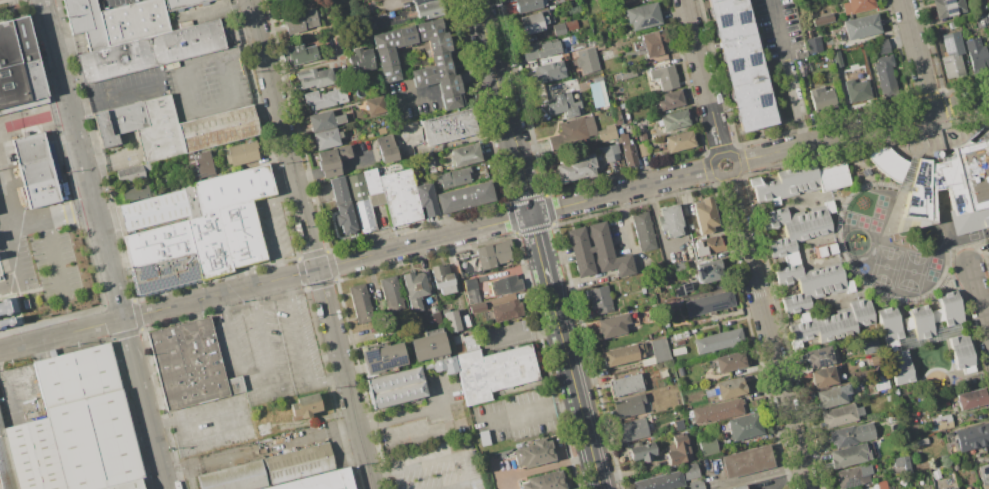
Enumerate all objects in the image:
building: (418, 1)
rooftop solar panel: (950, 3)
building: (182, 4)
building: (529, 4)
building: (982, 4)
building: (859, 6)
building: (948, 7)
building: (428, 9)
rooftop solar panel: (951, 9)
building: (988, 14)
building: (642, 15)
rooftop solar panel: (742, 15)
rooftop solar panel: (738, 17)
building: (823, 19)
building: (299, 20)
building: (535, 20)
rooftop solar panel: (722, 20)
building: (981, 20)
building: (85, 21)
building: (132, 21)
building: (862, 26)
building: (563, 27)
parking lot: (780, 30)
building: (653, 43)
building: (813, 45)
building: (882, 47)
building: (975, 48)
building: (539, 49)
building: (150, 50)
building: (300, 53)
road: (917, 56)
building: (439, 58)
rooftop solar panel: (752, 59)
building: (838, 59)
building: (360, 60)
building: (742, 63)
building: (18, 64)
building: (884, 64)
rooftop solar panel: (735, 65)
building: (952, 66)
building: (803, 67)
building: (547, 72)
road: (787, 72)
building: (627, 74)
road: (496, 75)
building: (616, 76)
building: (314, 77)
building: (664, 77)
road: (703, 77)
road: (187, 90)
building: (858, 90)
road: (114, 96)
building: (324, 98)
building: (669, 99)
building: (822, 99)
rooftop solar panel: (761, 101)
building: (561, 104)
building: (375, 105)
building: (621, 105)
building: (615, 114)
building: (674, 119)
building: (323, 120)
building: (142, 126)
building: (448, 126)
building: (217, 128)
road: (861, 130)
building: (571, 131)
building: (606, 132)
building: (641, 135)
building: (326, 138)
building: (678, 141)
building: (386, 148)
building: (626, 149)
building: (609, 152)
building: (241, 153)
building: (464, 155)
road: (733, 158)
building: (331, 160)
building: (428, 160)
building: (201, 163)
building: (888, 163)
building: (575, 168)
building: (34, 170)
building: (129, 173)
rooftop solar panel: (977, 174)
building: (908, 176)
building: (452, 177)
building: (833, 177)
building: (370, 181)
road: (523, 182)
building: (783, 184)
building: (356, 186)
building: (954, 188)
building: (338, 190)
building: (136, 191)
building: (399, 196)
building: (464, 196)
building: (374, 198)
building: (425, 198)
traffic signals: (532, 214)
building: (363, 215)
building: (704, 215)
building: (344, 217)
road: (50, 219)
building: (669, 220)
road: (499, 222)
road: (272, 223)
building: (194, 230)
building: (643, 230)
road: (674, 241)
road: (104, 244)
road: (311, 244)
building: (707, 245)
road: (541, 248)
building: (824, 249)
building: (595, 252)
building: (492, 253)
building: (790, 255)
road: (12, 257)
road: (56, 257)
rooftop solar panel: (176, 265)
building: (678, 267)
park: (886, 267)
building: (707, 270)
rooftop solar panel: (165, 271)
rooftop solar panel: (145, 272)
park: (913, 272)
building: (441, 278)
rooftop solar panel: (167, 283)
building: (504, 285)
building: (681, 288)
building: (414, 289)
road: (288, 290)
building: (470, 290)
building: (390, 294)
road: (252, 298)
building: (599, 299)
road: (979, 300)
building: (360, 302)
building: (708, 303)
road: (222, 307)
building: (476, 307)
building: (950, 307)
building: (506, 310)
building: (4, 312)
road: (142, 314)
building: (936, 316)
building: (451, 321)
building: (831, 322)
building: (920, 322)
building: (665, 324)
building: (890, 324)
building: (611, 325)
road: (521, 331)
road: (769, 331)
road: (263, 337)
building: (718, 340)
building: (469, 342)
building: (457, 343)
building: (868, 343)
road: (301, 344)
building: (427, 347)
building: (677, 350)
building: (656, 352)
building: (961, 353)
building: (623, 354)
rooftop solar panel: (369, 355)
building: (820, 355)
building: (382, 358)
building: (874, 360)
road: (237, 361)
building: (729, 361)
building: (190, 364)
building: (441, 364)
rooftop solar panel: (386, 365)
building: (901, 366)
building: (493, 371)
building: (678, 371)
building: (76, 373)
building: (822, 376)
road: (274, 379)
building: (879, 381)
road: (328, 383)
building: (625, 385)
road: (575, 386)
building: (395, 387)
building: (729, 388)
building: (831, 395)
building: (969, 398)
building: (303, 406)
building: (627, 406)
building: (718, 410)
road: (194, 413)
road: (529, 413)
road: (446, 414)
building: (840, 414)
building: (943, 421)
building: (678, 424)
building: (743, 426)
building: (631, 429)
building: (850, 434)
building: (972, 436)
building: (94, 441)
building: (707, 446)
road: (260, 448)
building: (677, 450)
building: (641, 451)
building: (533, 453)
building: (848, 454)
building: (33, 455)
road: (437, 457)
building: (745, 461)
building: (901, 462)
building: (300, 463)
building: (6, 464)
building: (920, 465)
road: (545, 466)
building: (954, 466)
building: (689, 470)
building: (935, 474)
building: (852, 475)
building: (983, 475)
building: (235, 478)
building: (544, 481)
building: (660, 481)
building: (312, 482)
rooftop solar panel: (851, 483)
building: (695, 484)
building: (129, 485)
building: (738, 487)
building: (852, 488)
building: (951, 488)

